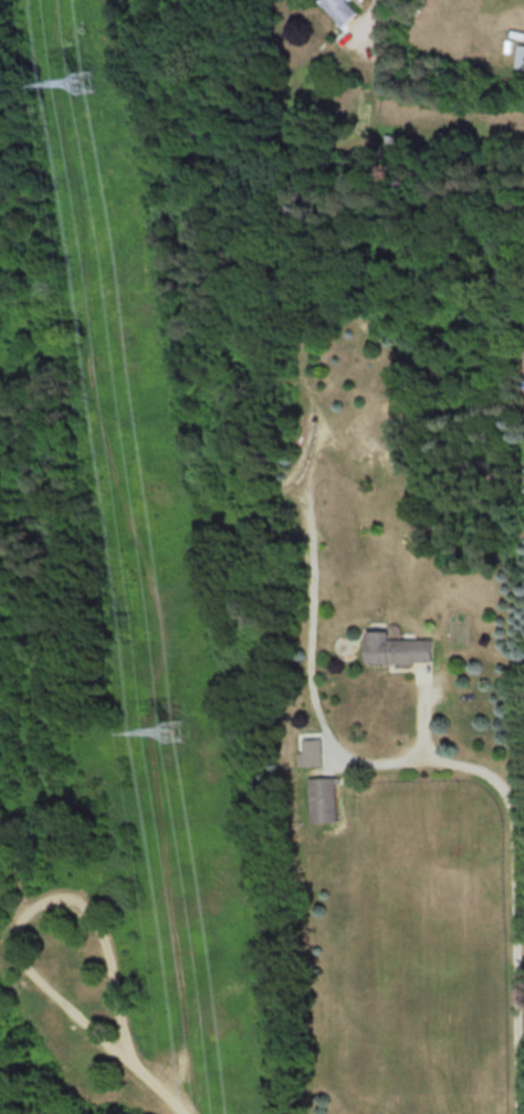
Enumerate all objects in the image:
building: (340, 9)
road: (360, 13)
building: (517, 56)
power tower: (83, 81)
park: (147, 570)
building: (396, 649)
power tower: (172, 729)
building: (323, 799)
road: (513, 880)
road: (35, 904)
road: (163, 1090)

